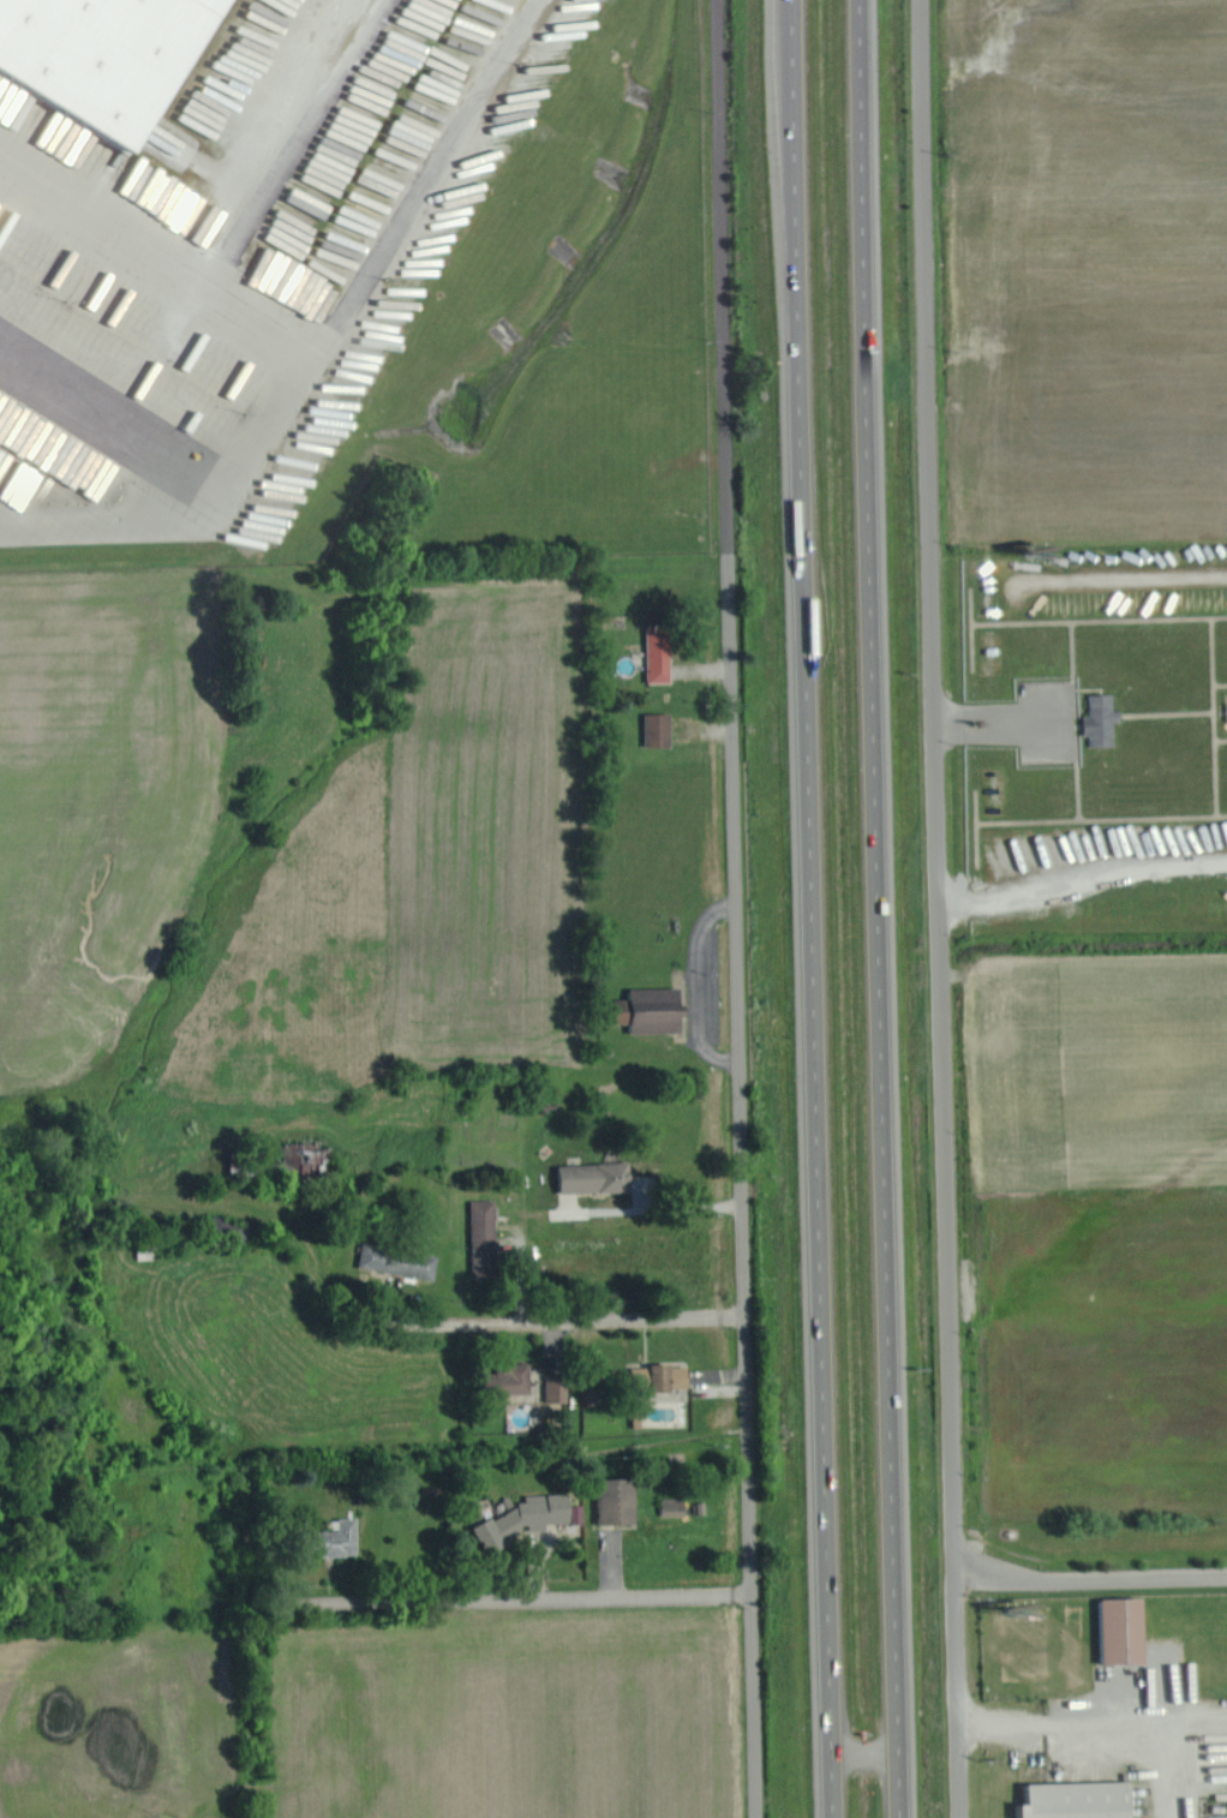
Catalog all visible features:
building: (103, 47)
building: (663, 652)
building: (1105, 719)
road: (995, 720)
building: (662, 729)
road: (737, 909)
road: (812, 909)
road: (876, 909)
road: (939, 909)
building: (654, 1009)
building: (307, 1158)
building: (598, 1176)
building: (487, 1237)
building: (402, 1260)
road: (481, 1318)
building: (645, 1373)
building: (674, 1376)
building: (510, 1379)
building: (561, 1388)
building: (620, 1501)
building: (676, 1506)
building: (528, 1518)
building: (342, 1538)
road: (1090, 1579)
road: (547, 1598)
building: (1126, 1629)
road: (1063, 1742)
road: (864, 1757)
building: (1082, 1800)

